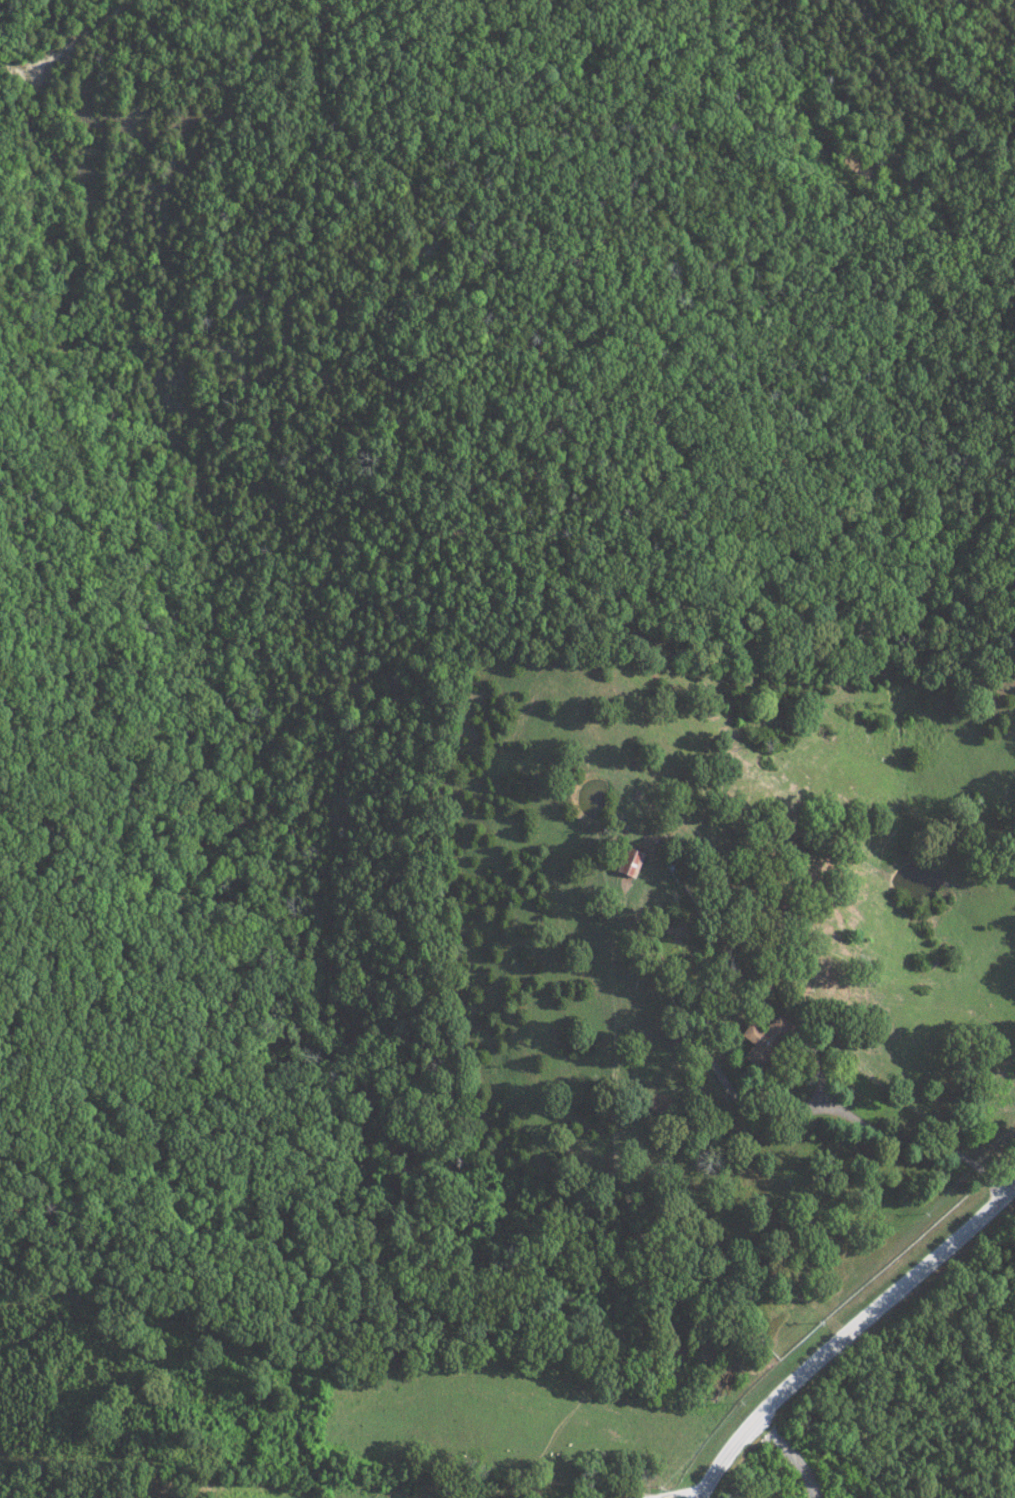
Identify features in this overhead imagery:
building: (627, 861)
road: (887, 1305)
road: (729, 1457)

